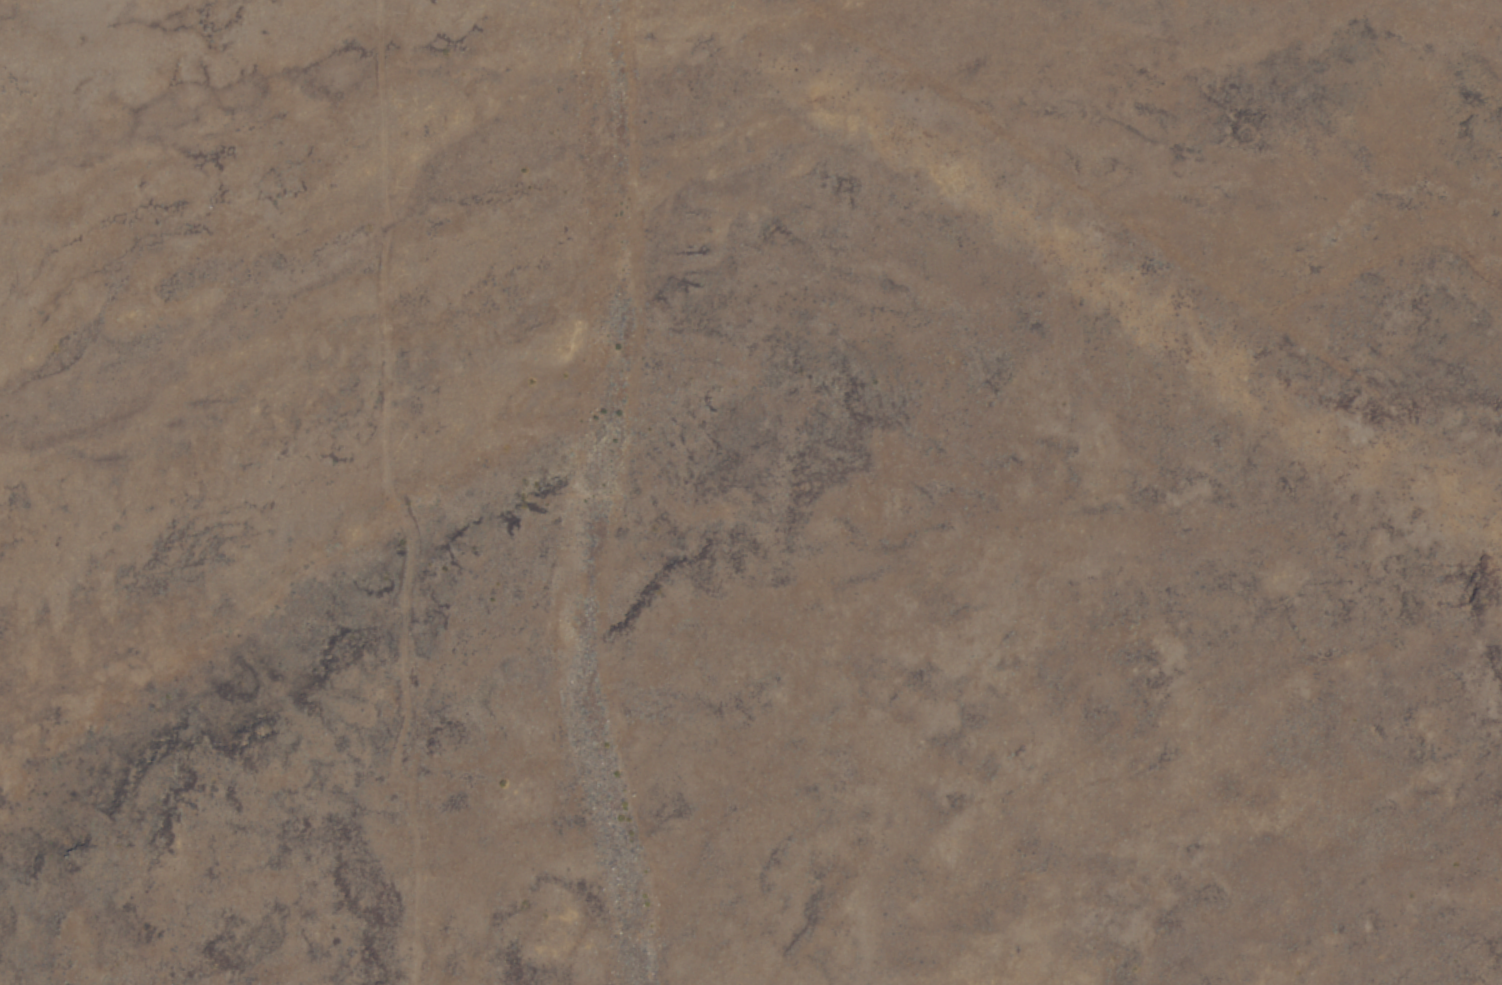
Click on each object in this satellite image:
road: (1278, 140)
road: (2, 982)

